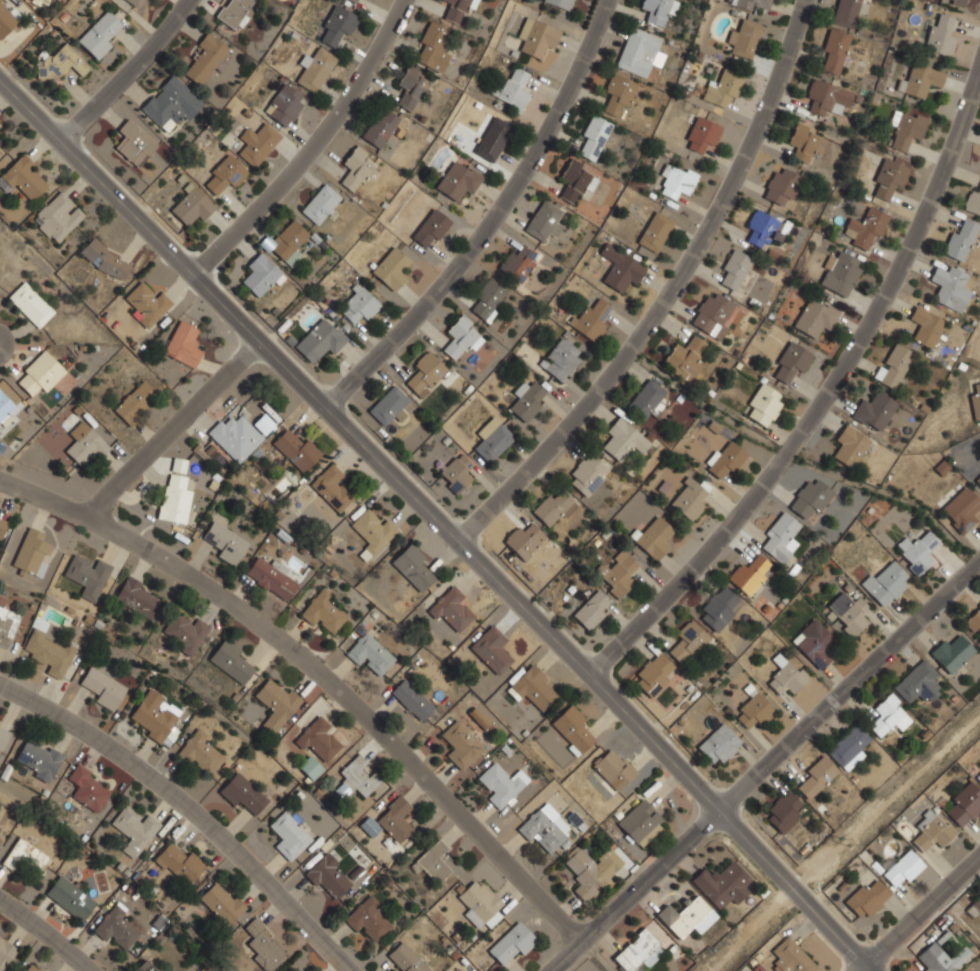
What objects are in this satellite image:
building: (0, 0)
building: (353, 0)
building: (958, 1)
building: (132, 2)
building: (560, 3)
building: (751, 3)
building: (457, 9)
building: (658, 10)
building: (234, 11)
building: (845, 12)
building: (5, 21)
building: (336, 24)
building: (98, 34)
building: (940, 35)
building: (537, 36)
building: (744, 39)
building: (433, 45)
building: (833, 50)
building: (638, 51)
building: (205, 58)
building: (60, 63)
building: (314, 69)
road: (126, 72)
building: (921, 80)
building: (411, 87)
building: (513, 89)
building: (722, 89)
building: (618, 94)
building: (826, 98)
building: (170, 104)
building: (283, 104)
building: (379, 128)
building: (906, 128)
building: (701, 134)
building: (592, 137)
building: (492, 138)
building: (805, 139)
building: (0, 141)
building: (257, 142)
building: (133, 143)
road: (310, 145)
building: (356, 168)
building: (224, 174)
building: (24, 178)
building: (887, 178)
building: (576, 179)
building: (676, 179)
building: (456, 181)
building: (780, 185)
building: (972, 202)
building: (320, 203)
building: (192, 205)
building: (57, 216)
road: (492, 220)
building: (542, 220)
building: (431, 228)
building: (763, 228)
building: (866, 228)
building: (655, 231)
building: (960, 238)
building: (287, 241)
building: (104, 259)
building: (517, 263)
building: (619, 267)
building: (391, 268)
building: (733, 270)
building: (840, 273)
building: (260, 275)
building: (950, 287)
road: (670, 292)
building: (488, 299)
building: (30, 304)
building: (147, 304)
building: (358, 304)
building: (712, 314)
building: (815, 317)
building: (590, 319)
building: (925, 326)
building: (462, 336)
building: (319, 339)
building: (183, 344)
building: (685, 357)
building: (560, 359)
building: (791, 361)
building: (894, 365)
building: (39, 373)
building: (426, 373)
road: (825, 395)
building: (645, 399)
building: (974, 399)
building: (135, 402)
building: (528, 402)
building: (763, 404)
building: (388, 405)
building: (5, 406)
building: (874, 411)
building: (267, 422)
road: (173, 429)
building: (234, 436)
building: (492, 439)
building: (624, 439)
road: (361, 443)
building: (86, 445)
building: (851, 447)
building: (296, 449)
building: (724, 459)
road: (806, 462)
building: (455, 473)
building: (587, 474)
building: (977, 478)
building: (331, 487)
building: (175, 491)
building: (809, 498)
building: (688, 499)
building: (958, 506)
building: (553, 507)
building: (2, 522)
building: (372, 532)
building: (654, 537)
building: (780, 537)
building: (524, 541)
building: (223, 542)
building: (31, 552)
building: (917, 552)
building: (550, 562)
building: (413, 567)
building: (617, 573)
building: (87, 575)
building: (748, 575)
building: (271, 578)
building: (885, 582)
building: (136, 597)
building: (453, 609)
building: (717, 609)
building: (590, 610)
building: (325, 612)
building: (847, 613)
building: (974, 621)
building: (5, 628)
building: (184, 632)
building: (688, 641)
building: (814, 643)
building: (47, 649)
building: (491, 649)
building: (369, 653)
building: (951, 653)
building: (230, 660)
road: (319, 673)
building: (654, 674)
building: (785, 675)
building: (918, 683)
road: (849, 686)
building: (103, 687)
building: (534, 688)
building: (411, 699)
building: (276, 703)
building: (753, 710)
building: (154, 715)
building: (888, 715)
building: (478, 717)
building: (573, 730)
building: (3, 732)
building: (461, 744)
building: (719, 744)
building: (317, 746)
building: (848, 747)
building: (200, 752)
building: (37, 759)
building: (613, 770)
building: (358, 777)
building: (815, 777)
building: (978, 777)
building: (502, 784)
building: (87, 788)
building: (243, 793)
building: (965, 805)
road: (189, 809)
building: (783, 811)
building: (395, 821)
building: (641, 823)
building: (370, 826)
building: (541, 827)
building: (133, 830)
building: (932, 831)
building: (289, 834)
power tower: (850, 849)
building: (25, 856)
building: (177, 861)
building: (433, 862)
building: (901, 868)
building: (592, 870)
building: (328, 877)
building: (721, 884)
road: (635, 890)
road: (795, 890)
building: (70, 898)
building: (867, 899)
building: (221, 902)
building: (479, 903)
building: (974, 907)
road: (920, 913)
building: (686, 916)
building: (367, 918)
building: (117, 927)
road: (46, 934)
building: (511, 942)
building: (262, 945)
building: (638, 951)
building: (6, 952)
building: (791, 957)
building: (406, 958)
building: (941, 958)
building: (33, 967)
building: (144, 967)
building: (163, 970)

